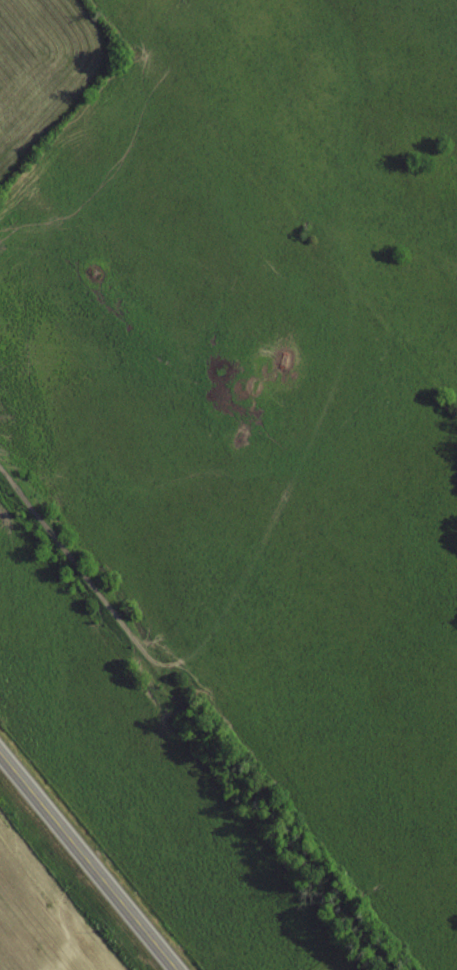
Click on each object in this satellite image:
road: (86, 863)
crop: (43, 915)

